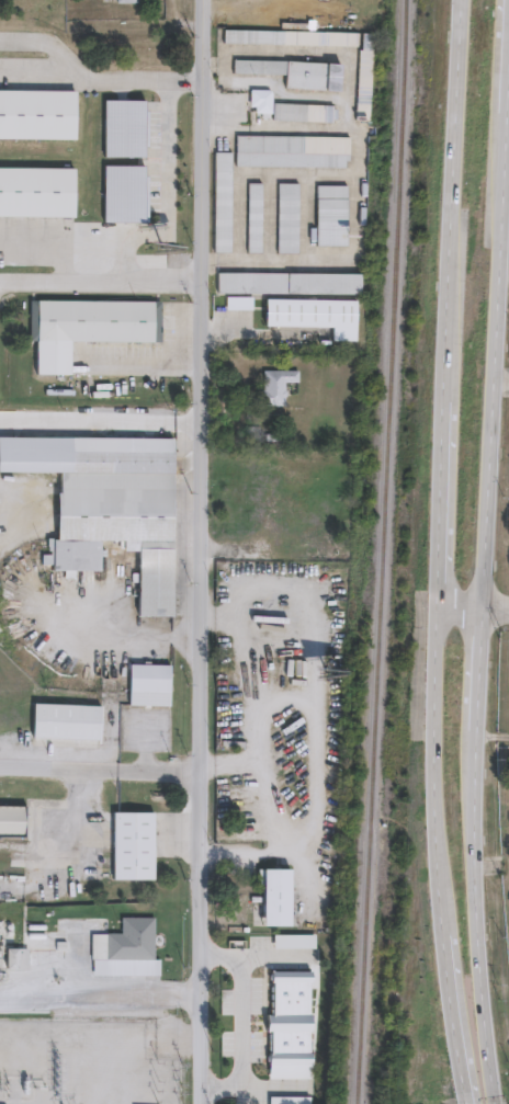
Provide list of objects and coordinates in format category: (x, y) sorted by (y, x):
building: (127, 1)
road: (303, 54)
building: (293, 72)
road: (92, 81)
building: (362, 82)
building: (286, 109)
building: (37, 115)
road: (507, 129)
building: (123, 141)
building: (291, 151)
road: (339, 177)
building: (123, 192)
building: (37, 193)
building: (220, 202)
road: (168, 203)
building: (329, 215)
building: (252, 217)
building: (285, 218)
road: (504, 252)
road: (100, 280)
building: (286, 283)
road: (445, 305)
building: (310, 316)
building: (89, 328)
road: (495, 329)
road: (500, 383)
building: (274, 385)
road: (102, 425)
building: (256, 480)
building: (108, 505)
road: (203, 551)
railway: (380, 551)
road: (459, 611)
road: (495, 611)
building: (150, 686)
building: (67, 724)
road: (490, 736)
road: (99, 769)
building: (12, 823)
building: (134, 849)
road: (436, 857)
road: (473, 857)
building: (274, 896)
building: (77, 930)
building: (123, 947)
building: (18, 961)
road: (99, 997)
road: (235, 1024)
power substation: (84, 1062)

